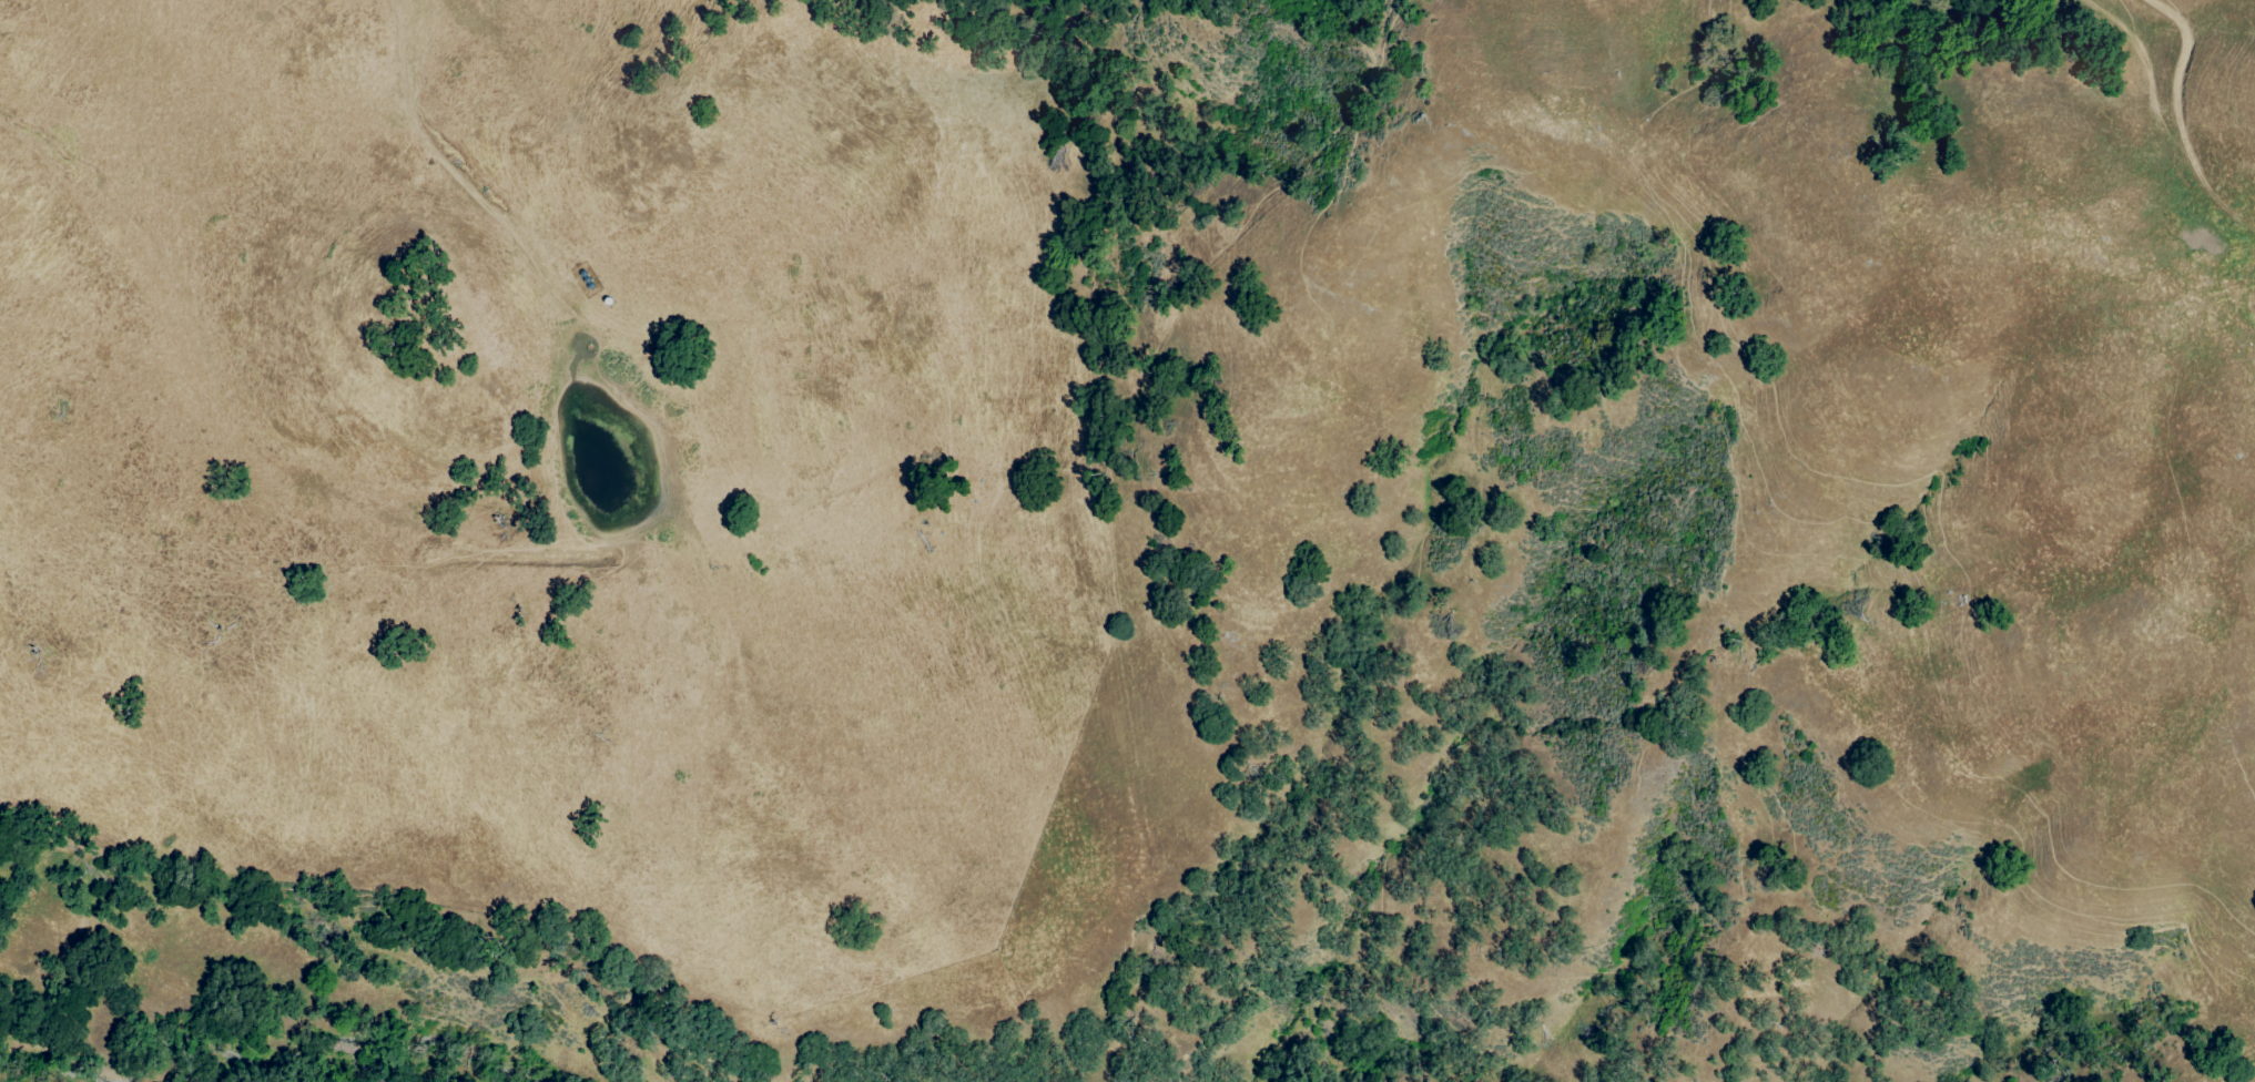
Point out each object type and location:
road: (2180, 122)

